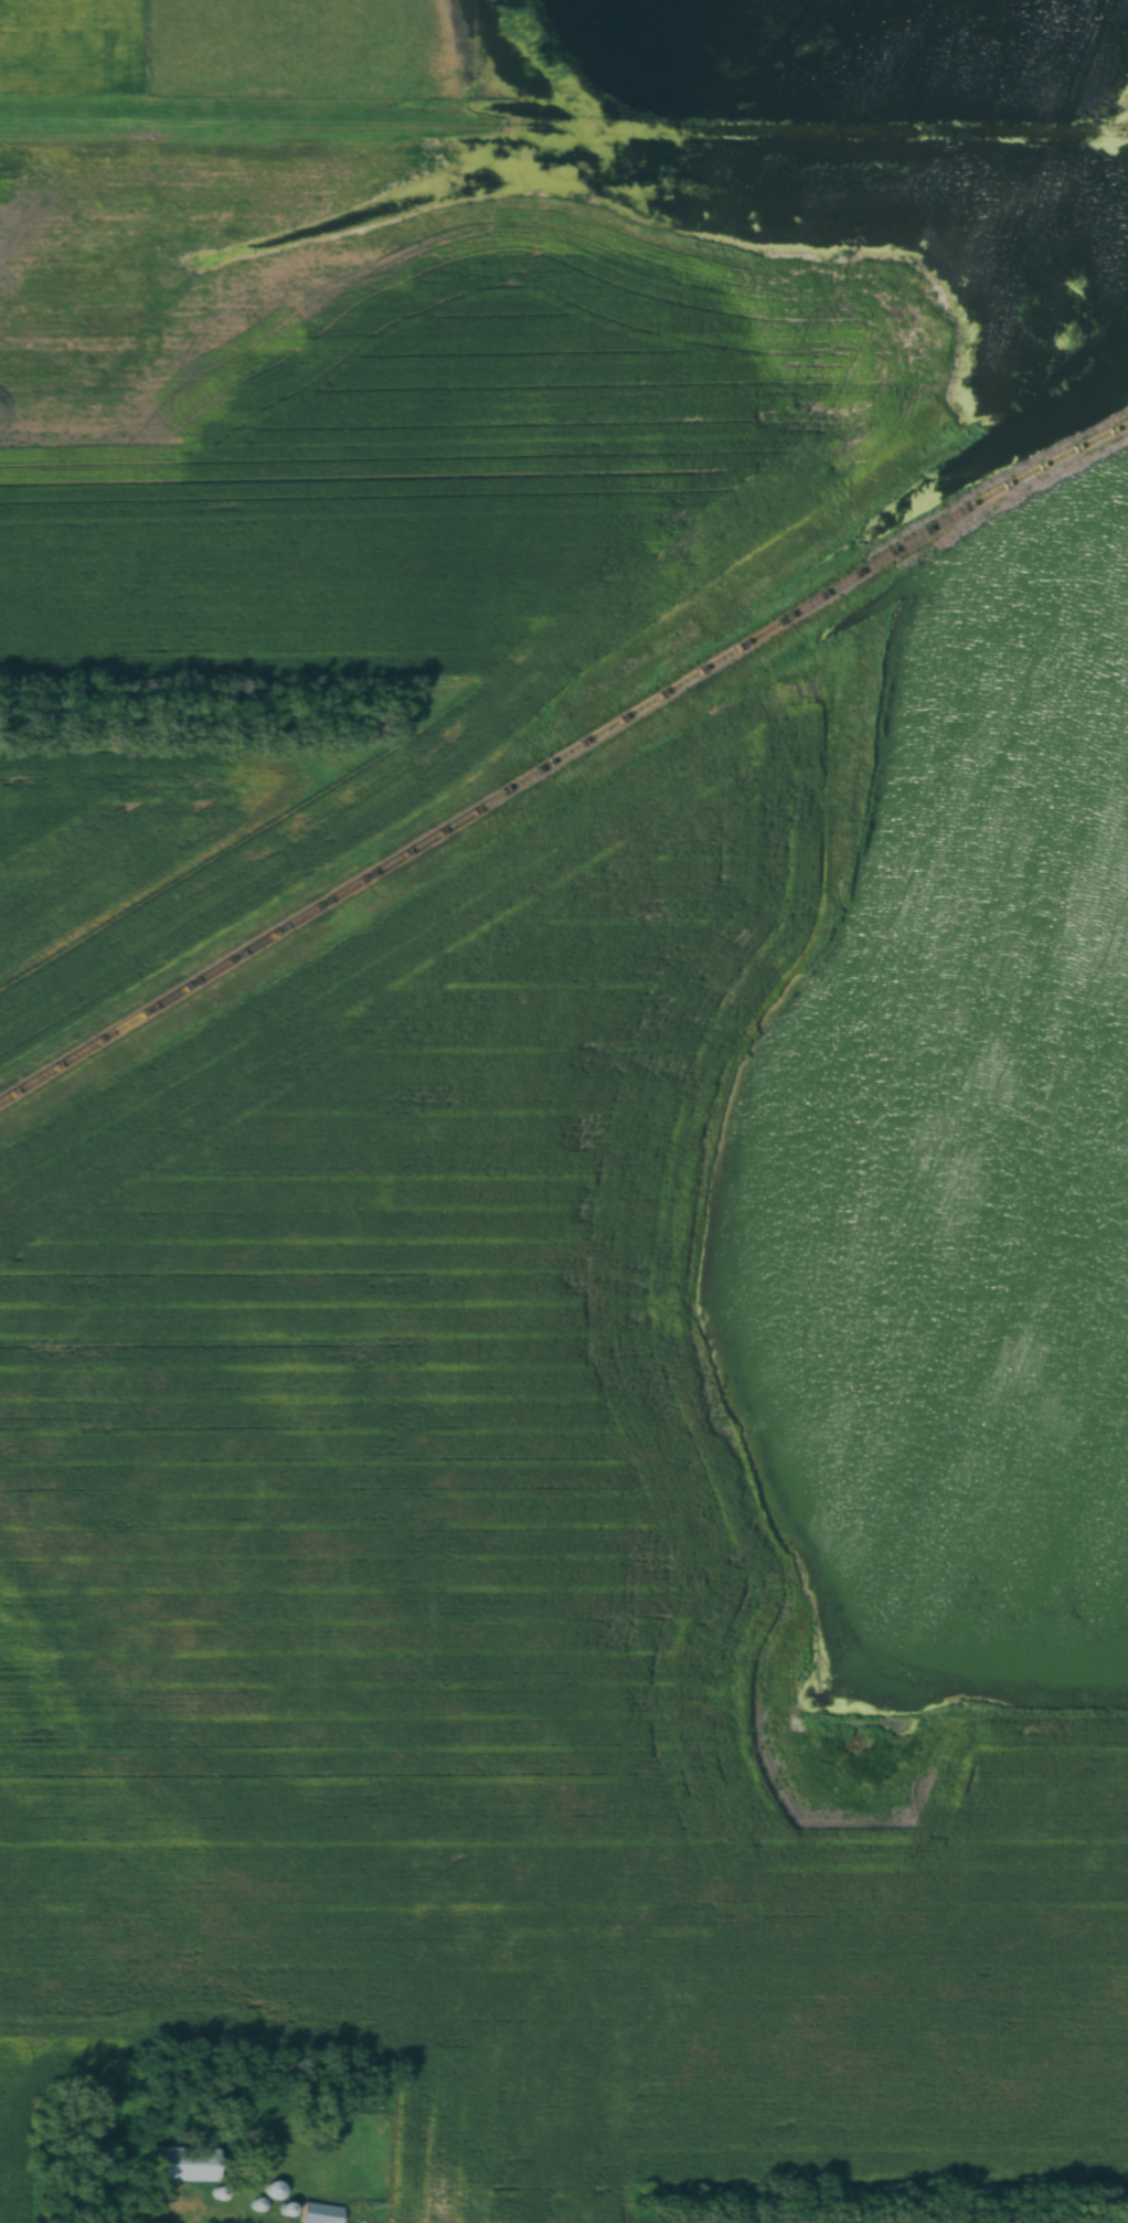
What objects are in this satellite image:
road: (563, 128)
railway: (560, 759)
building: (182, 2164)
building: (320, 2214)

